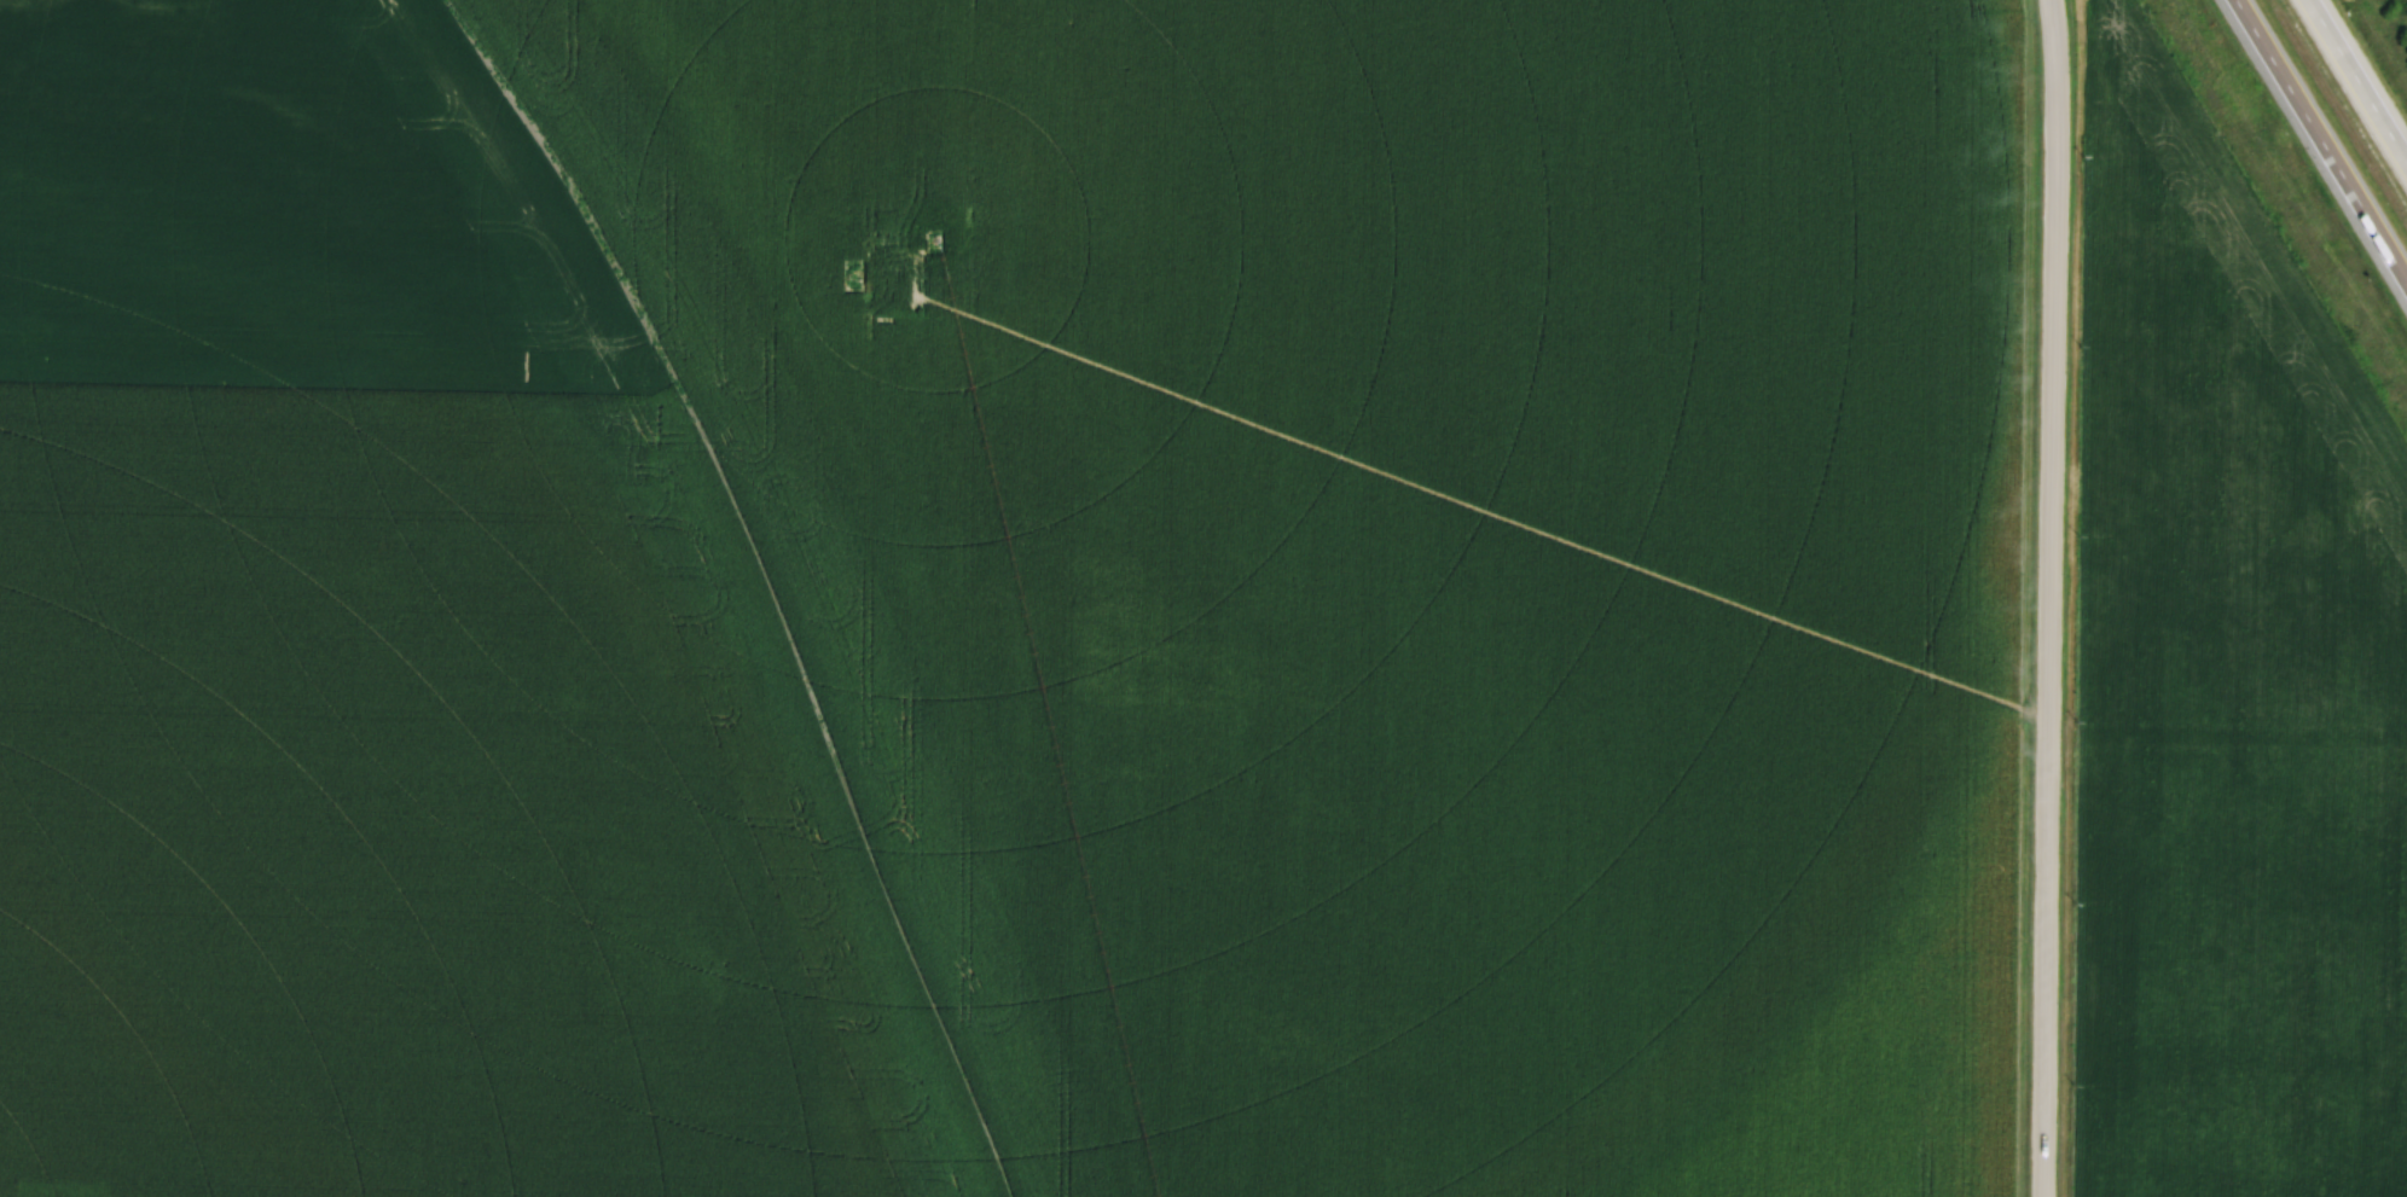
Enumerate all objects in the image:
road: (2356, 81)
road: (2316, 147)
road: (2054, 598)

